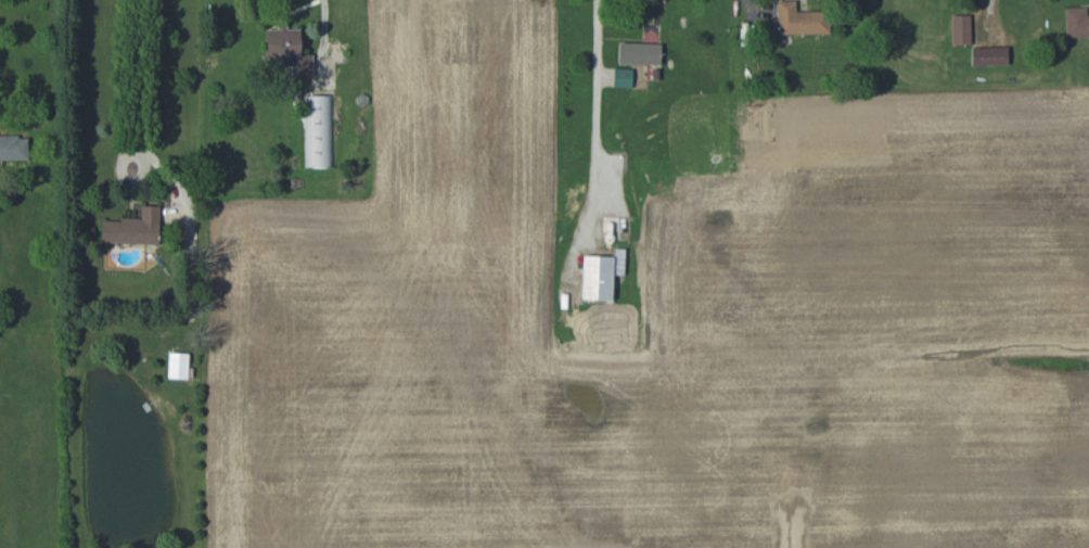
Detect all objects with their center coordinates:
road: (755, 10)
building: (800, 20)
building: (1076, 22)
building: (961, 29)
building: (289, 51)
building: (639, 53)
building: (989, 55)
building: (623, 77)
road: (134, 82)
road: (597, 103)
building: (318, 131)
building: (13, 148)
building: (132, 228)
building: (601, 275)
building: (178, 365)

